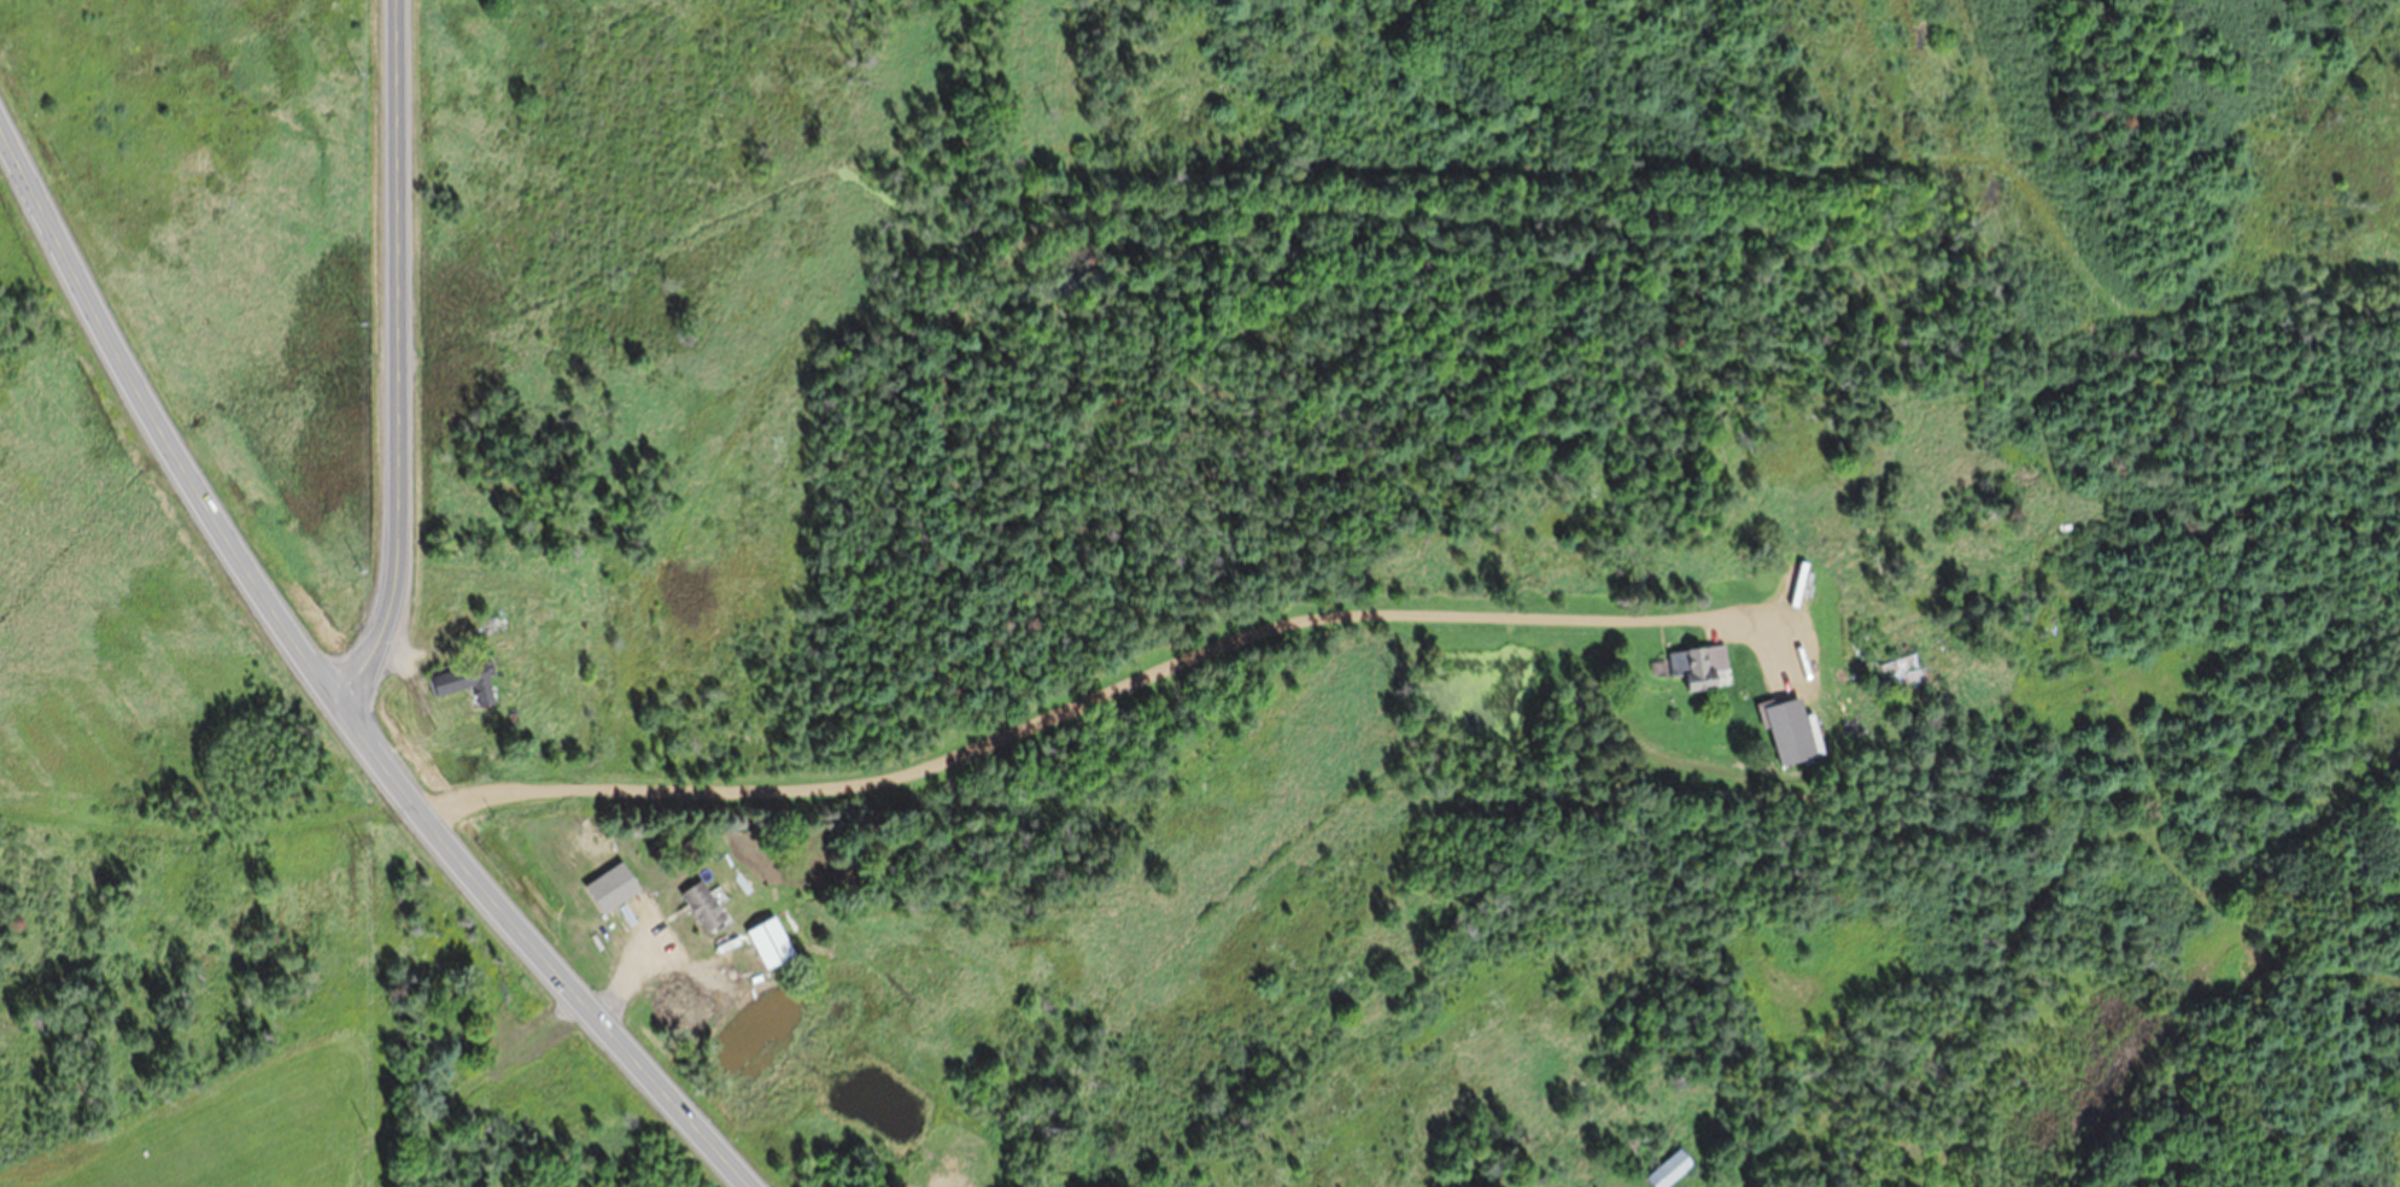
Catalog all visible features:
road: (406, 358)
building: (494, 625)
building: (1793, 639)
building: (1694, 665)
building: (1887, 668)
building: (458, 680)
road: (326, 691)
road: (1014, 721)
building: (697, 904)
building: (765, 941)
landfill: (283, 1005)
building: (1848, 1157)
building: (1663, 1168)

